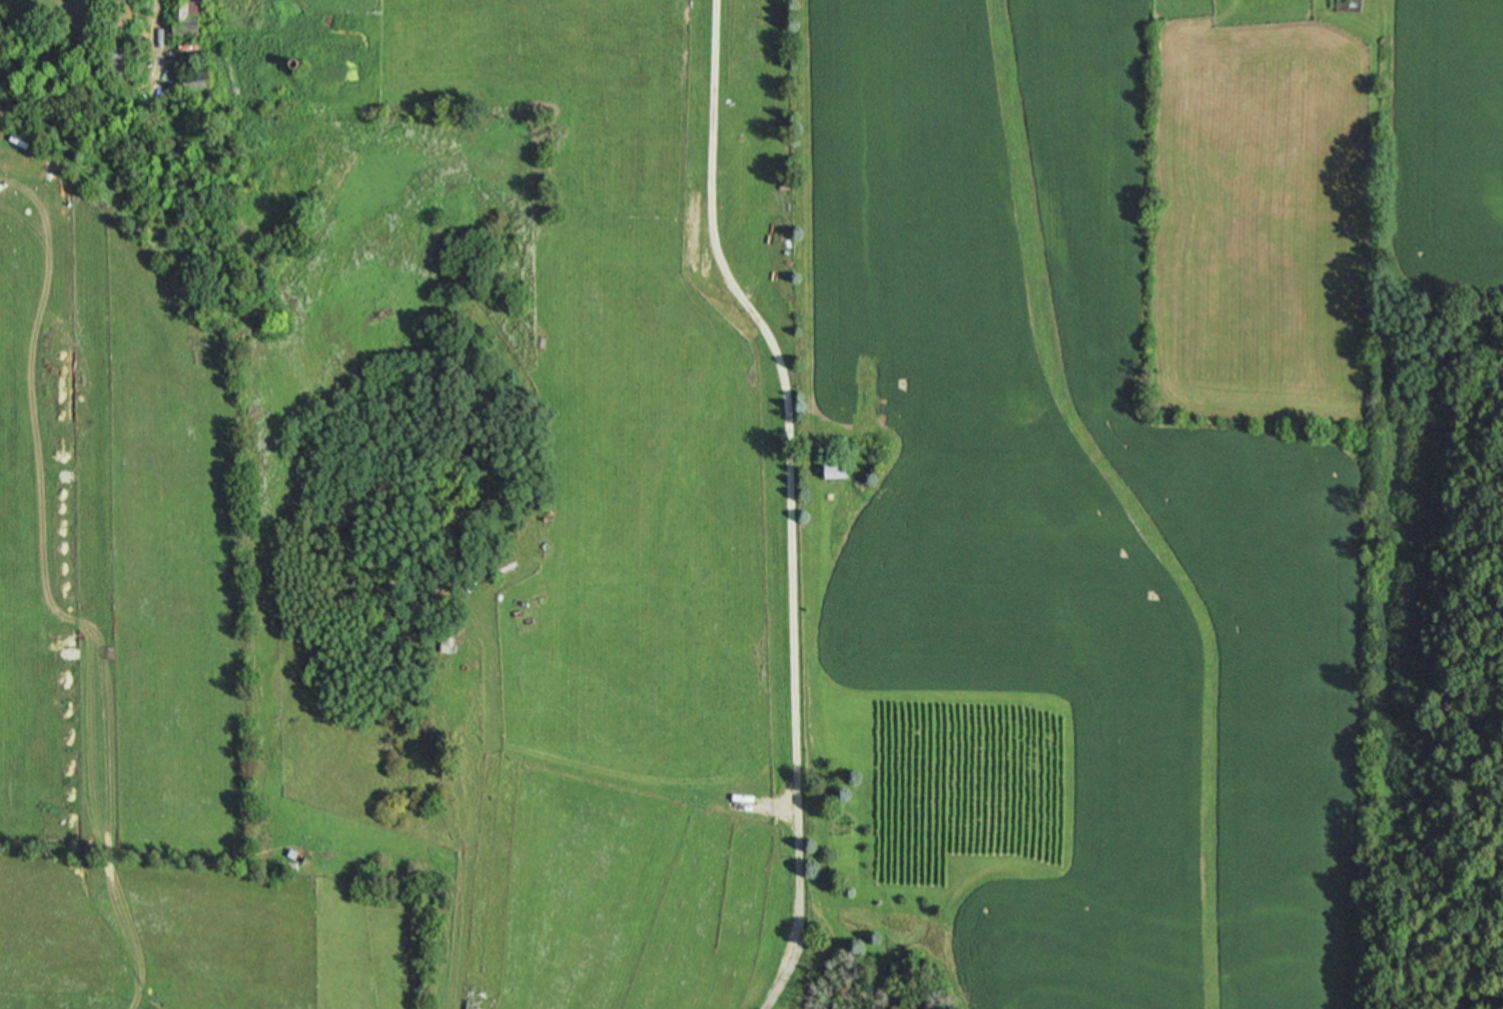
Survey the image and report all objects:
building: (1347, 5)
building: (183, 17)
building: (114, 59)
building: (194, 79)
building: (833, 470)
road: (790, 498)
building: (294, 855)

